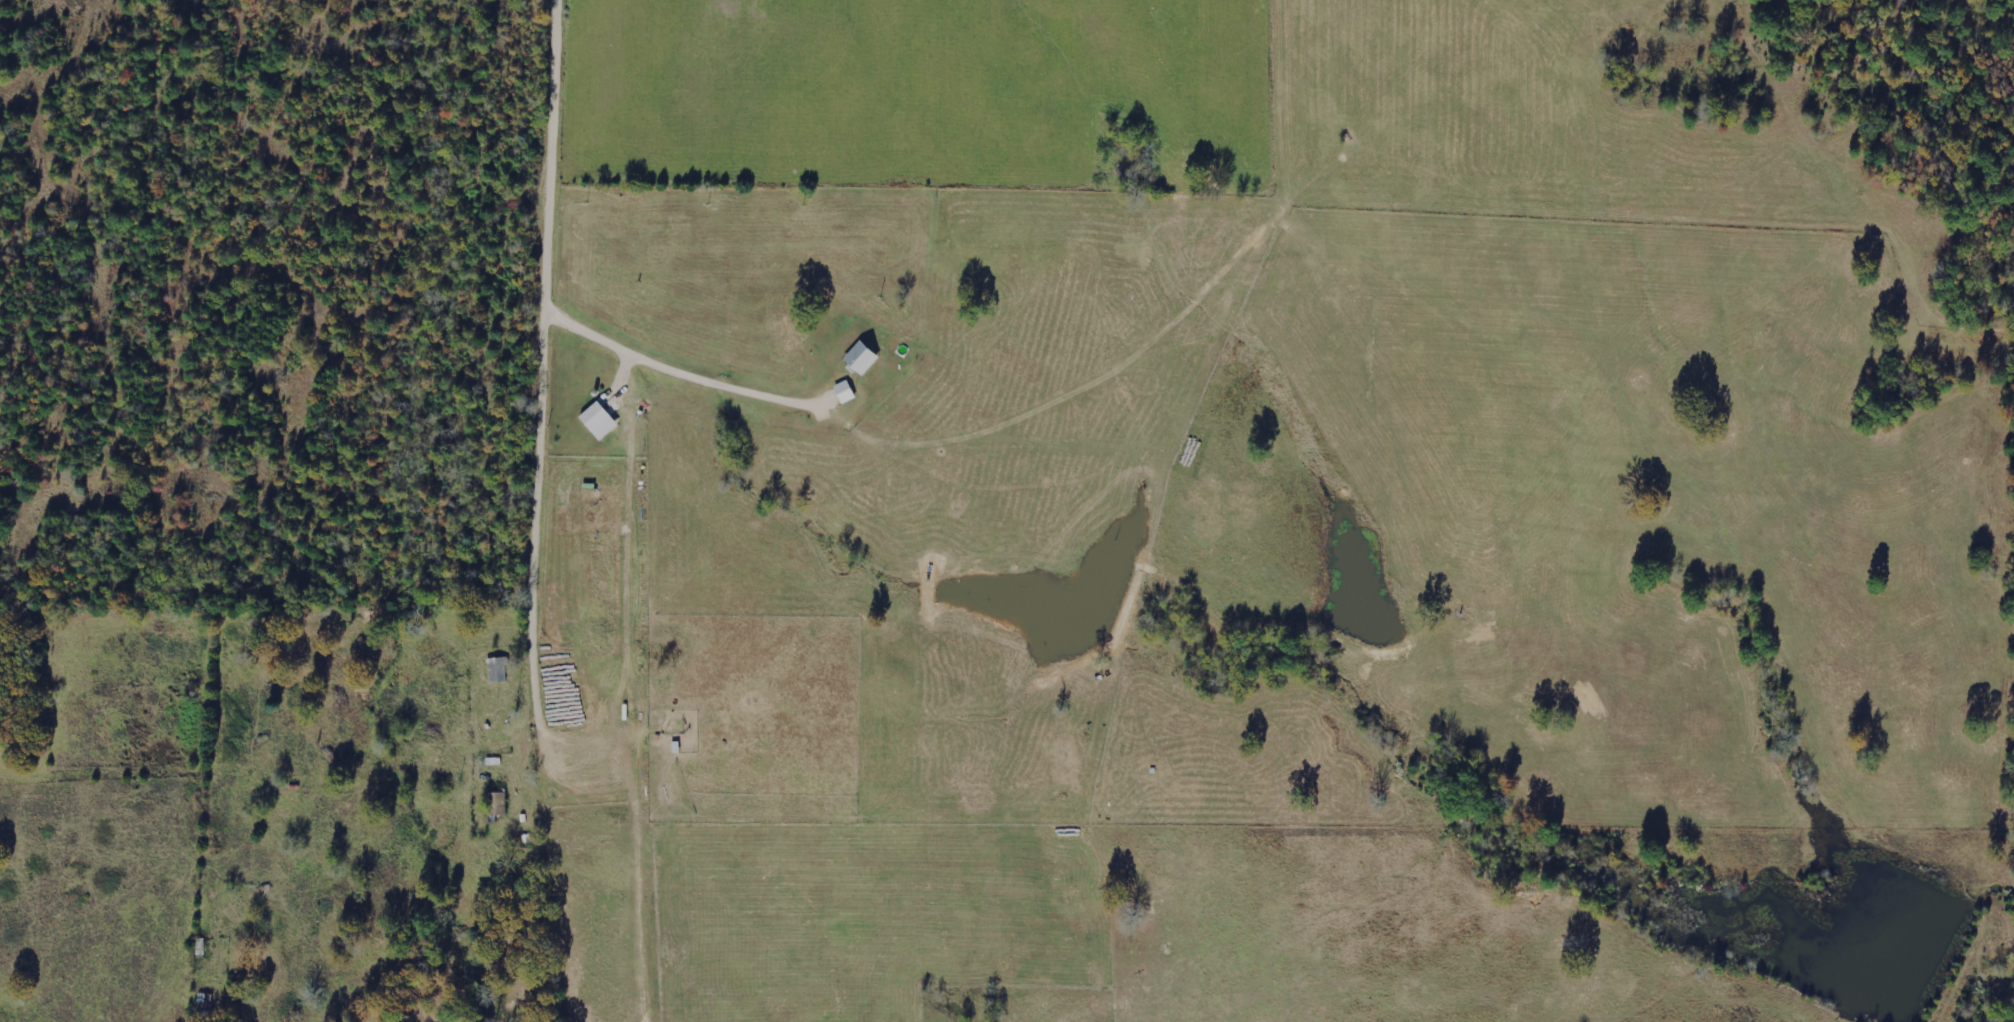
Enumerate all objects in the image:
building: (867, 357)
road: (551, 358)
building: (604, 421)

